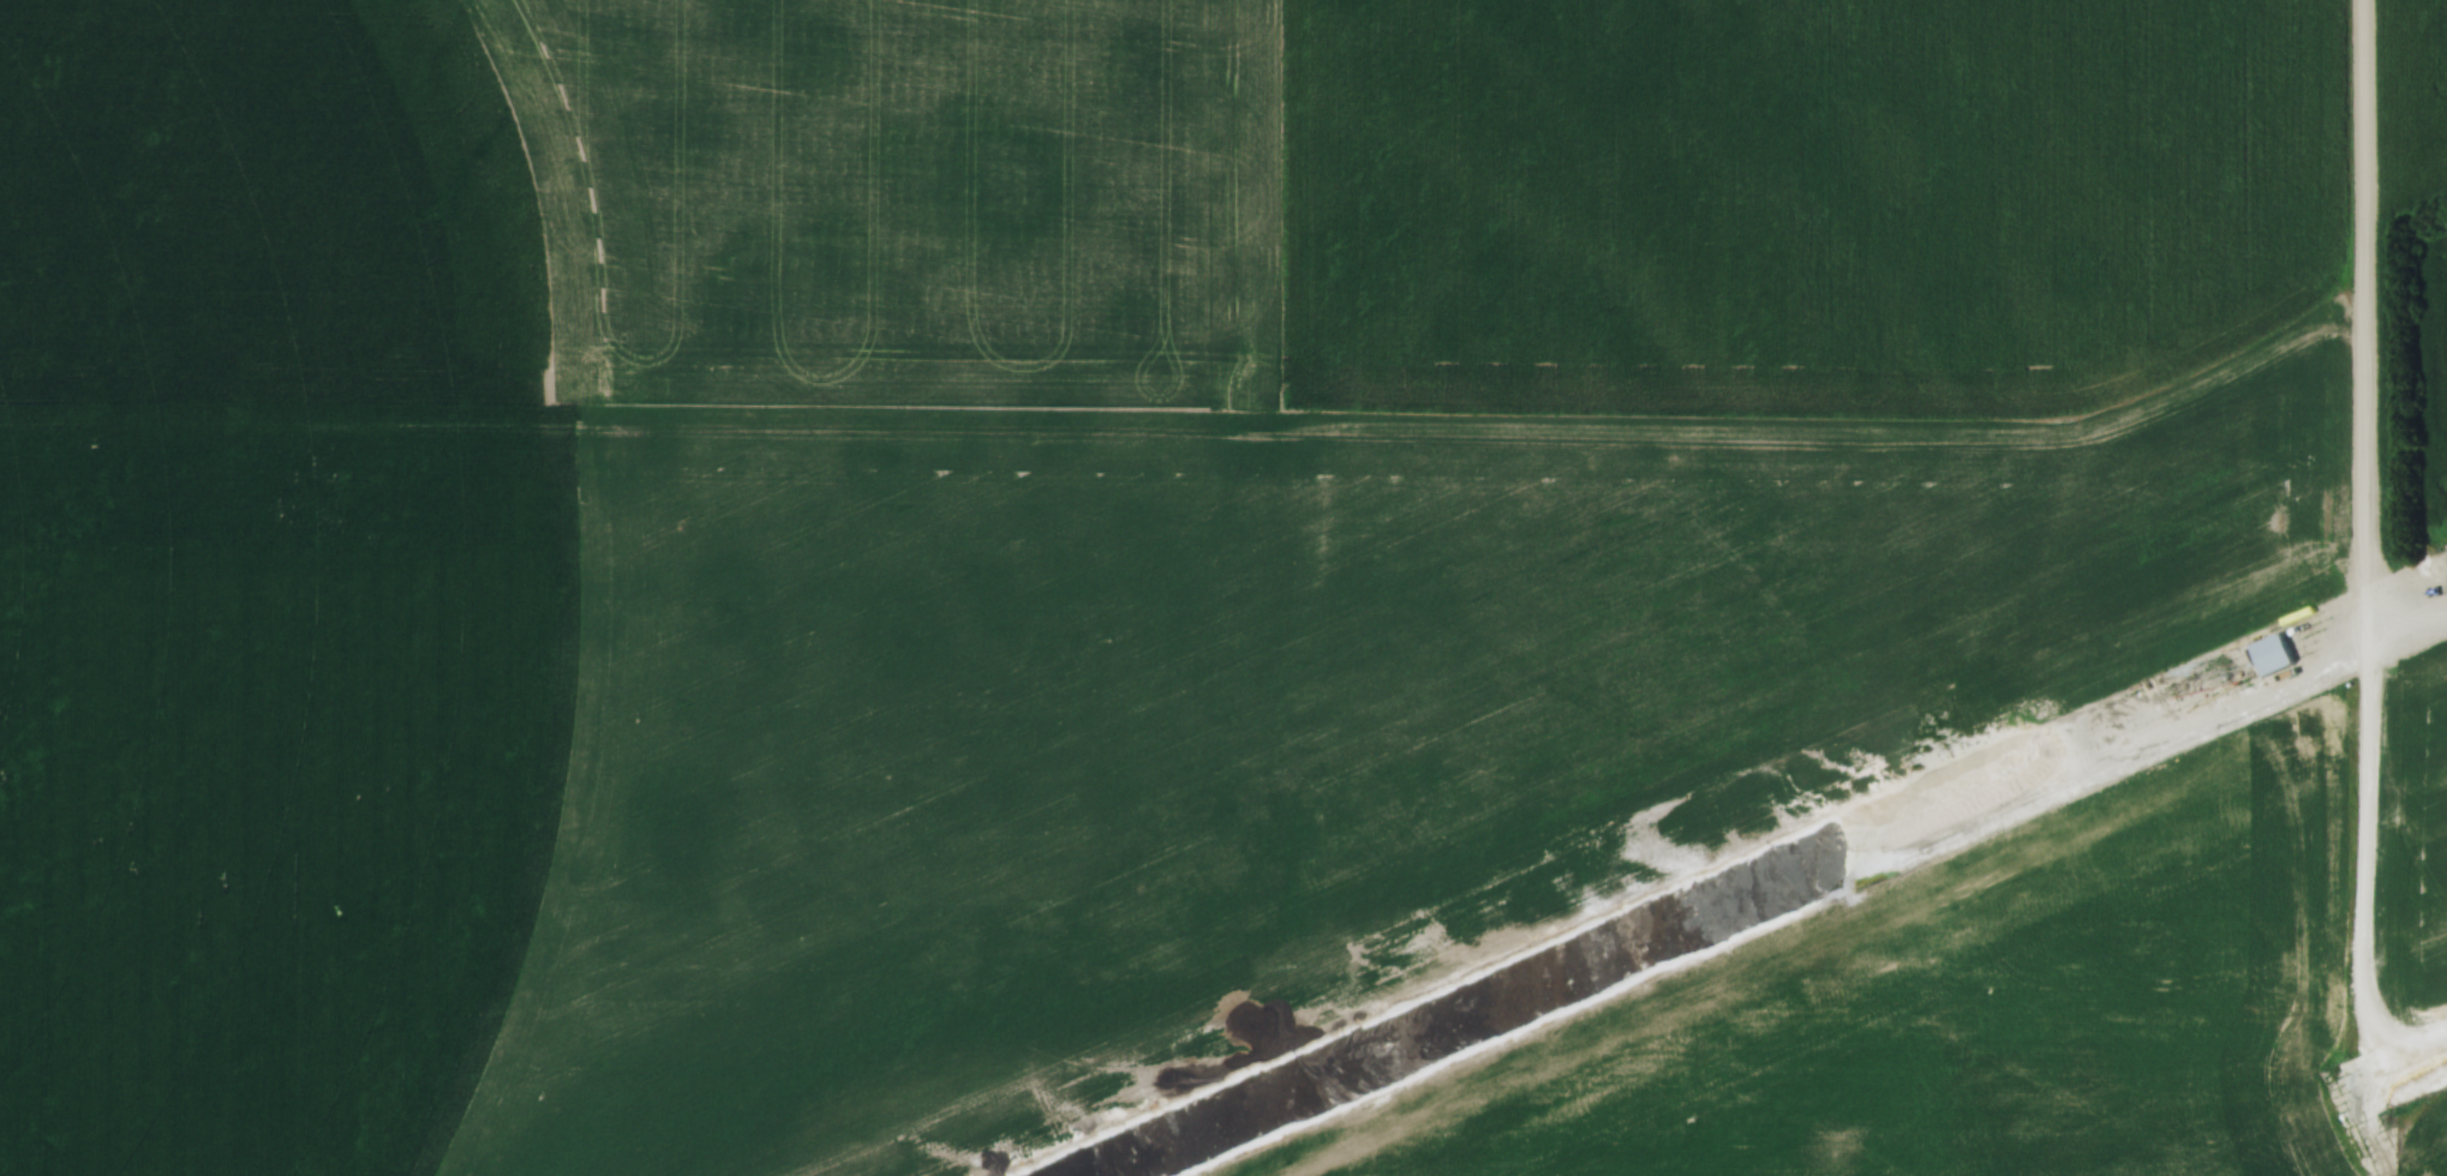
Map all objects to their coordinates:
road: (2362, 299)
building: (2046, 770)
building: (1617, 954)

